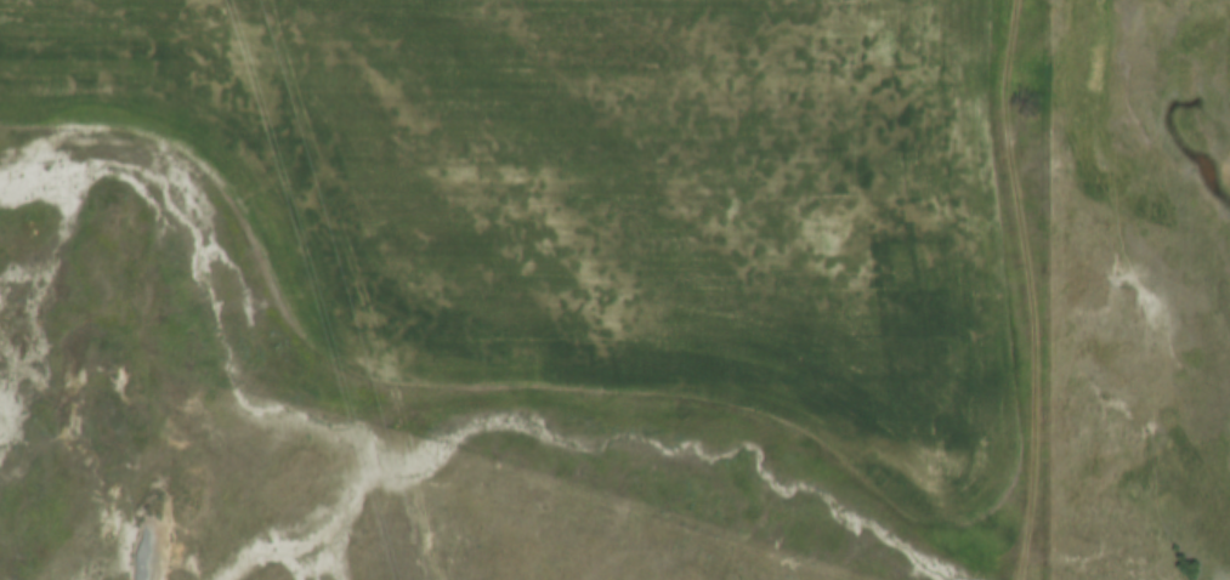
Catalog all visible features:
road: (1028, 289)

